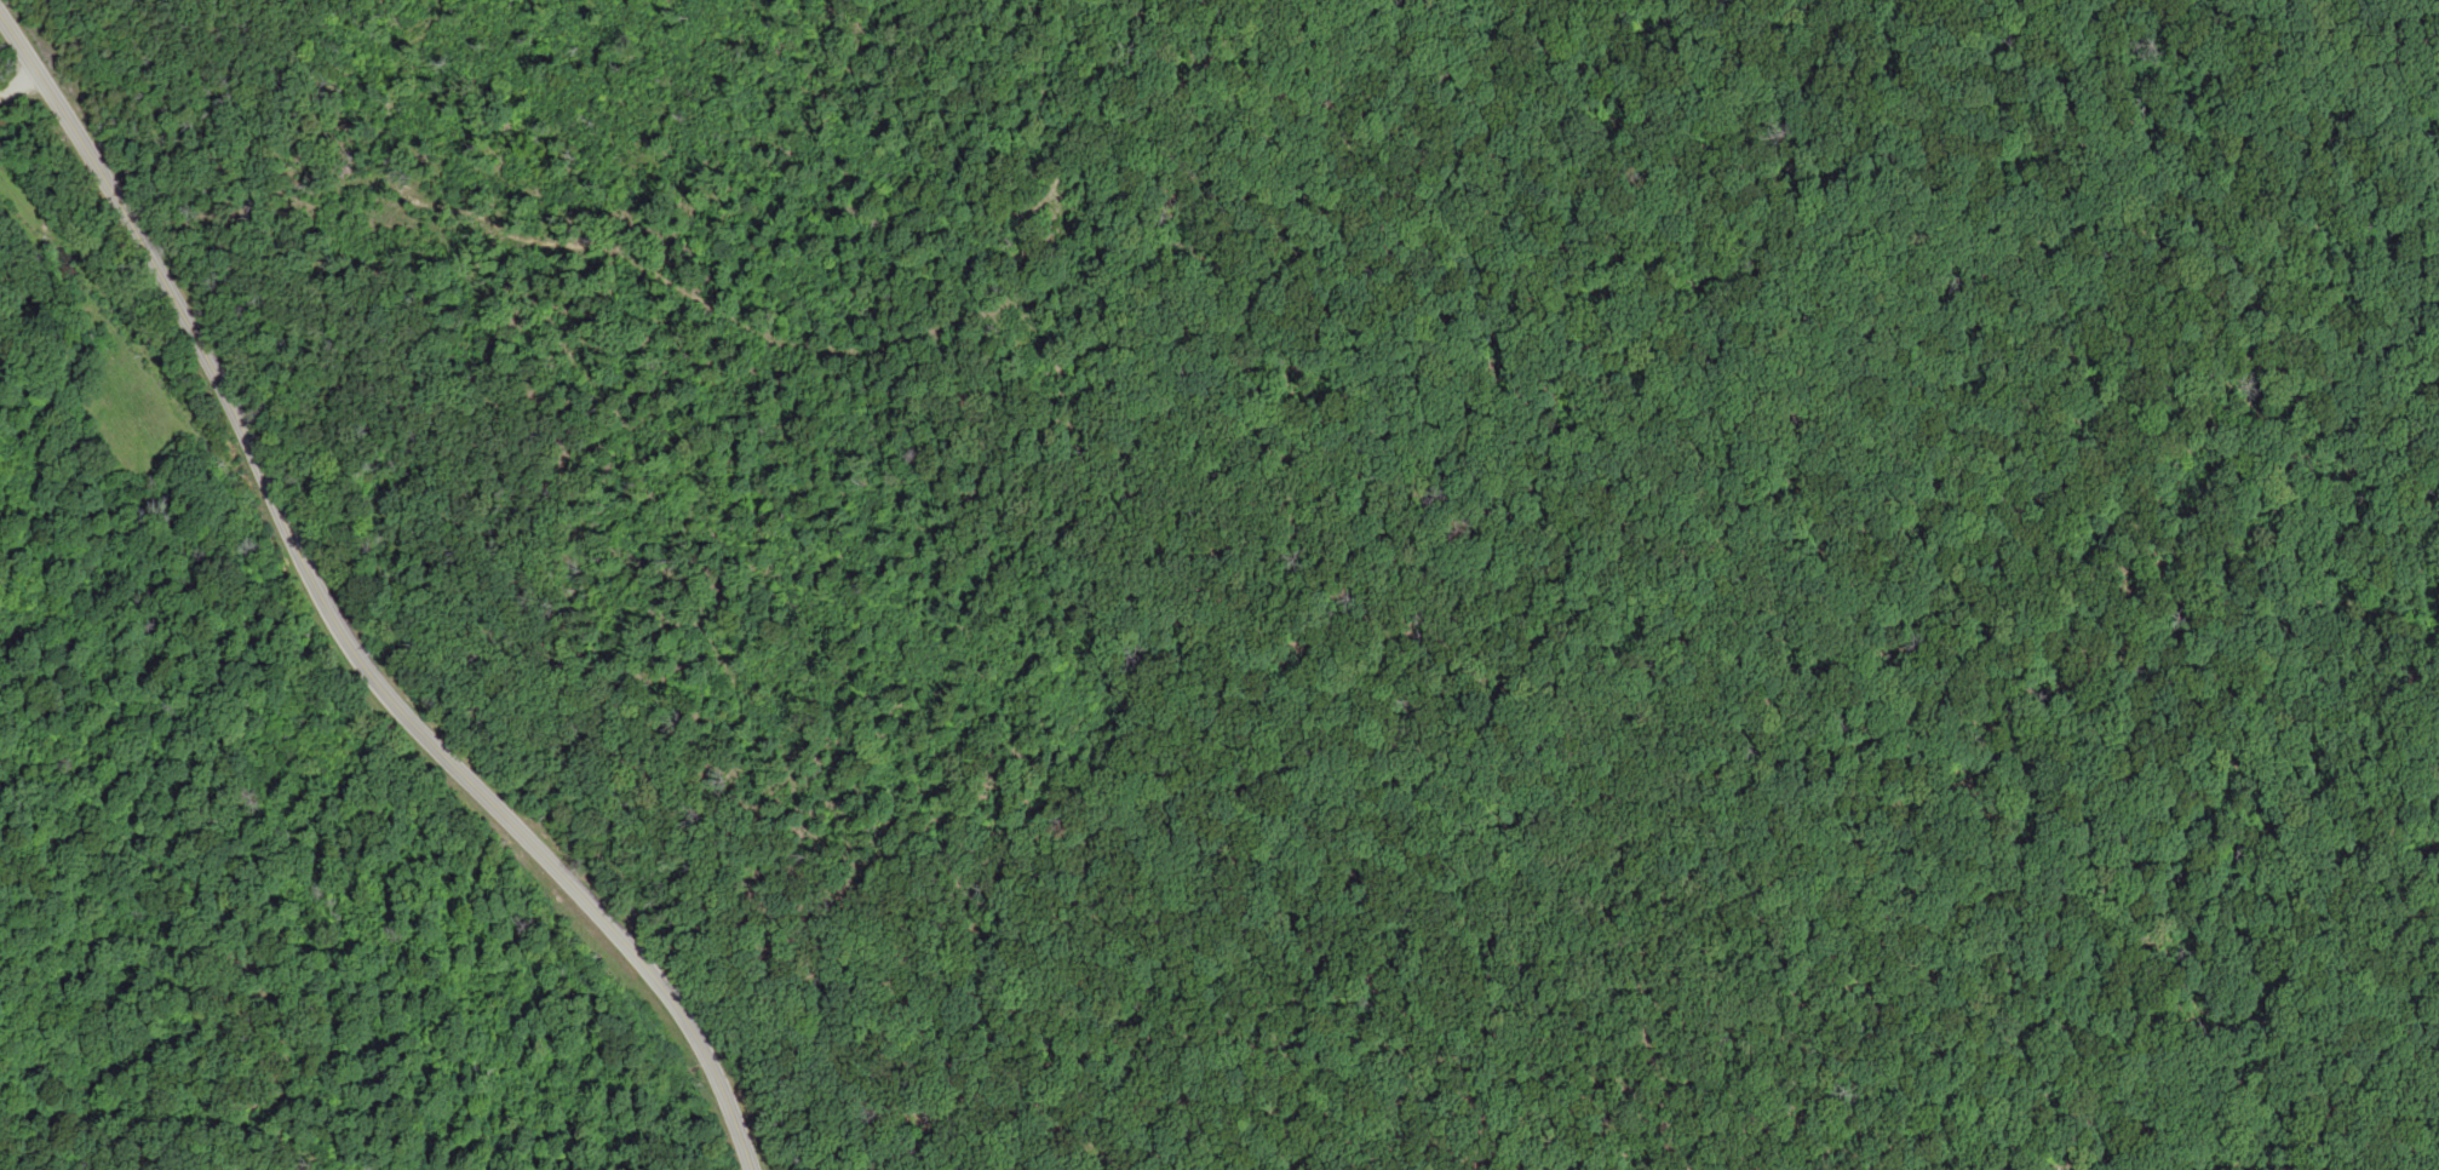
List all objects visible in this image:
road: (346, 166)
road: (1360, 593)
park: (1761, 600)
road: (334, 621)

